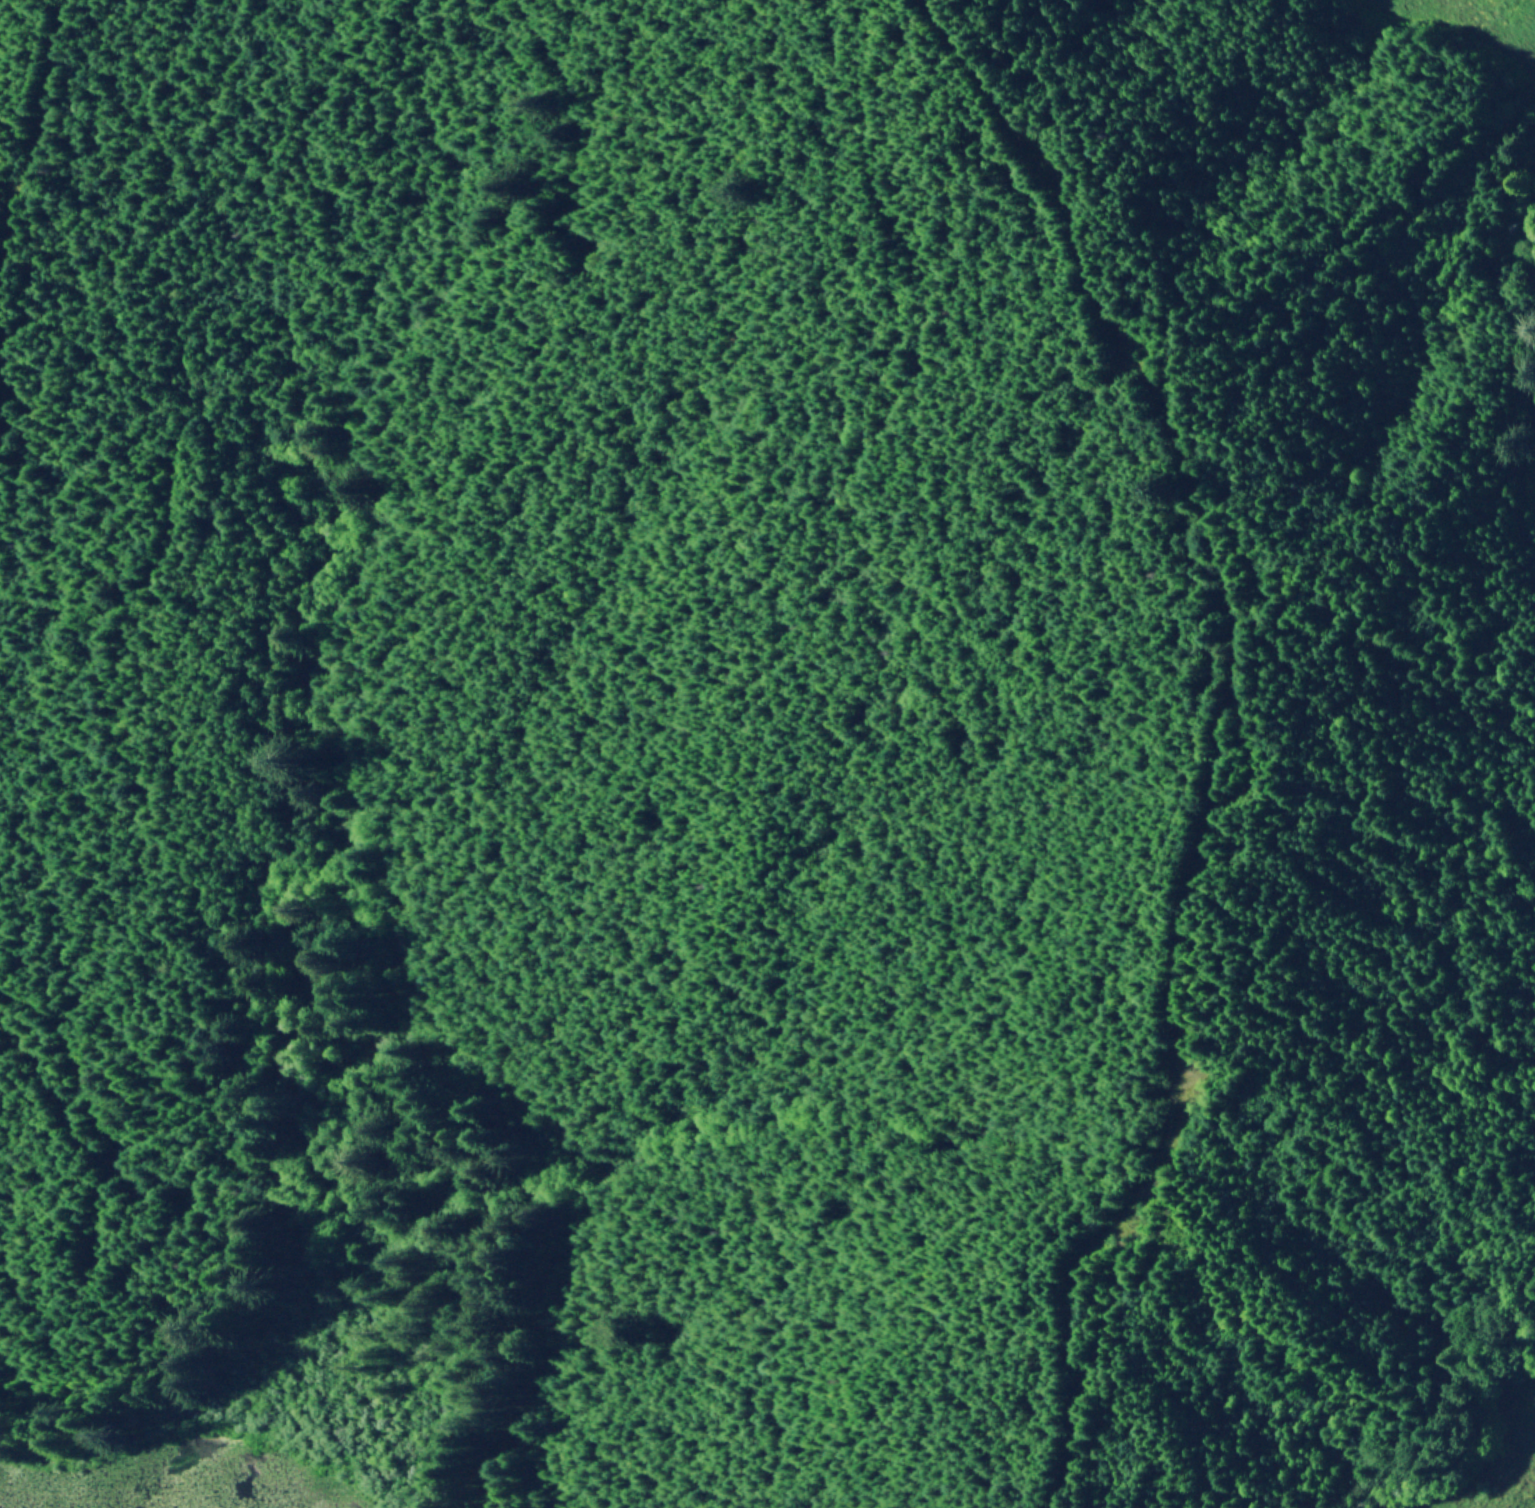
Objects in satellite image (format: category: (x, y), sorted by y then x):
road: (34, 140)

